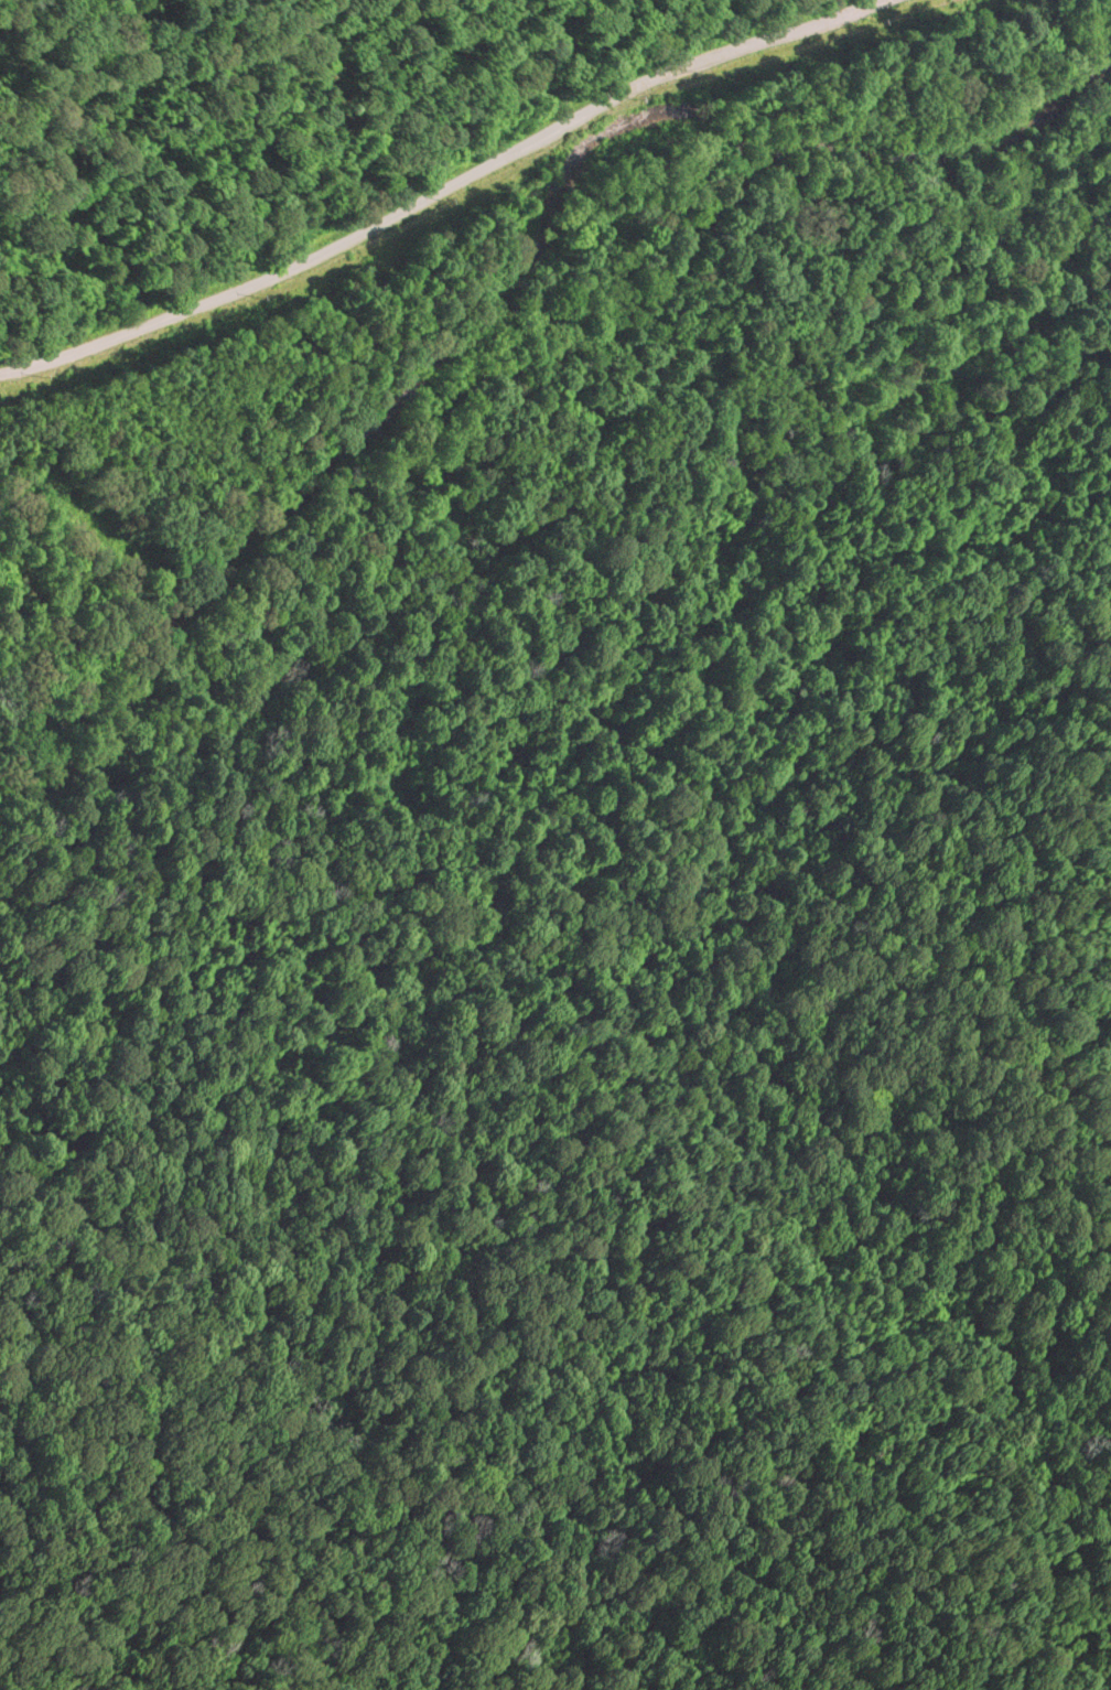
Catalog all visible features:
road: (436, 190)

